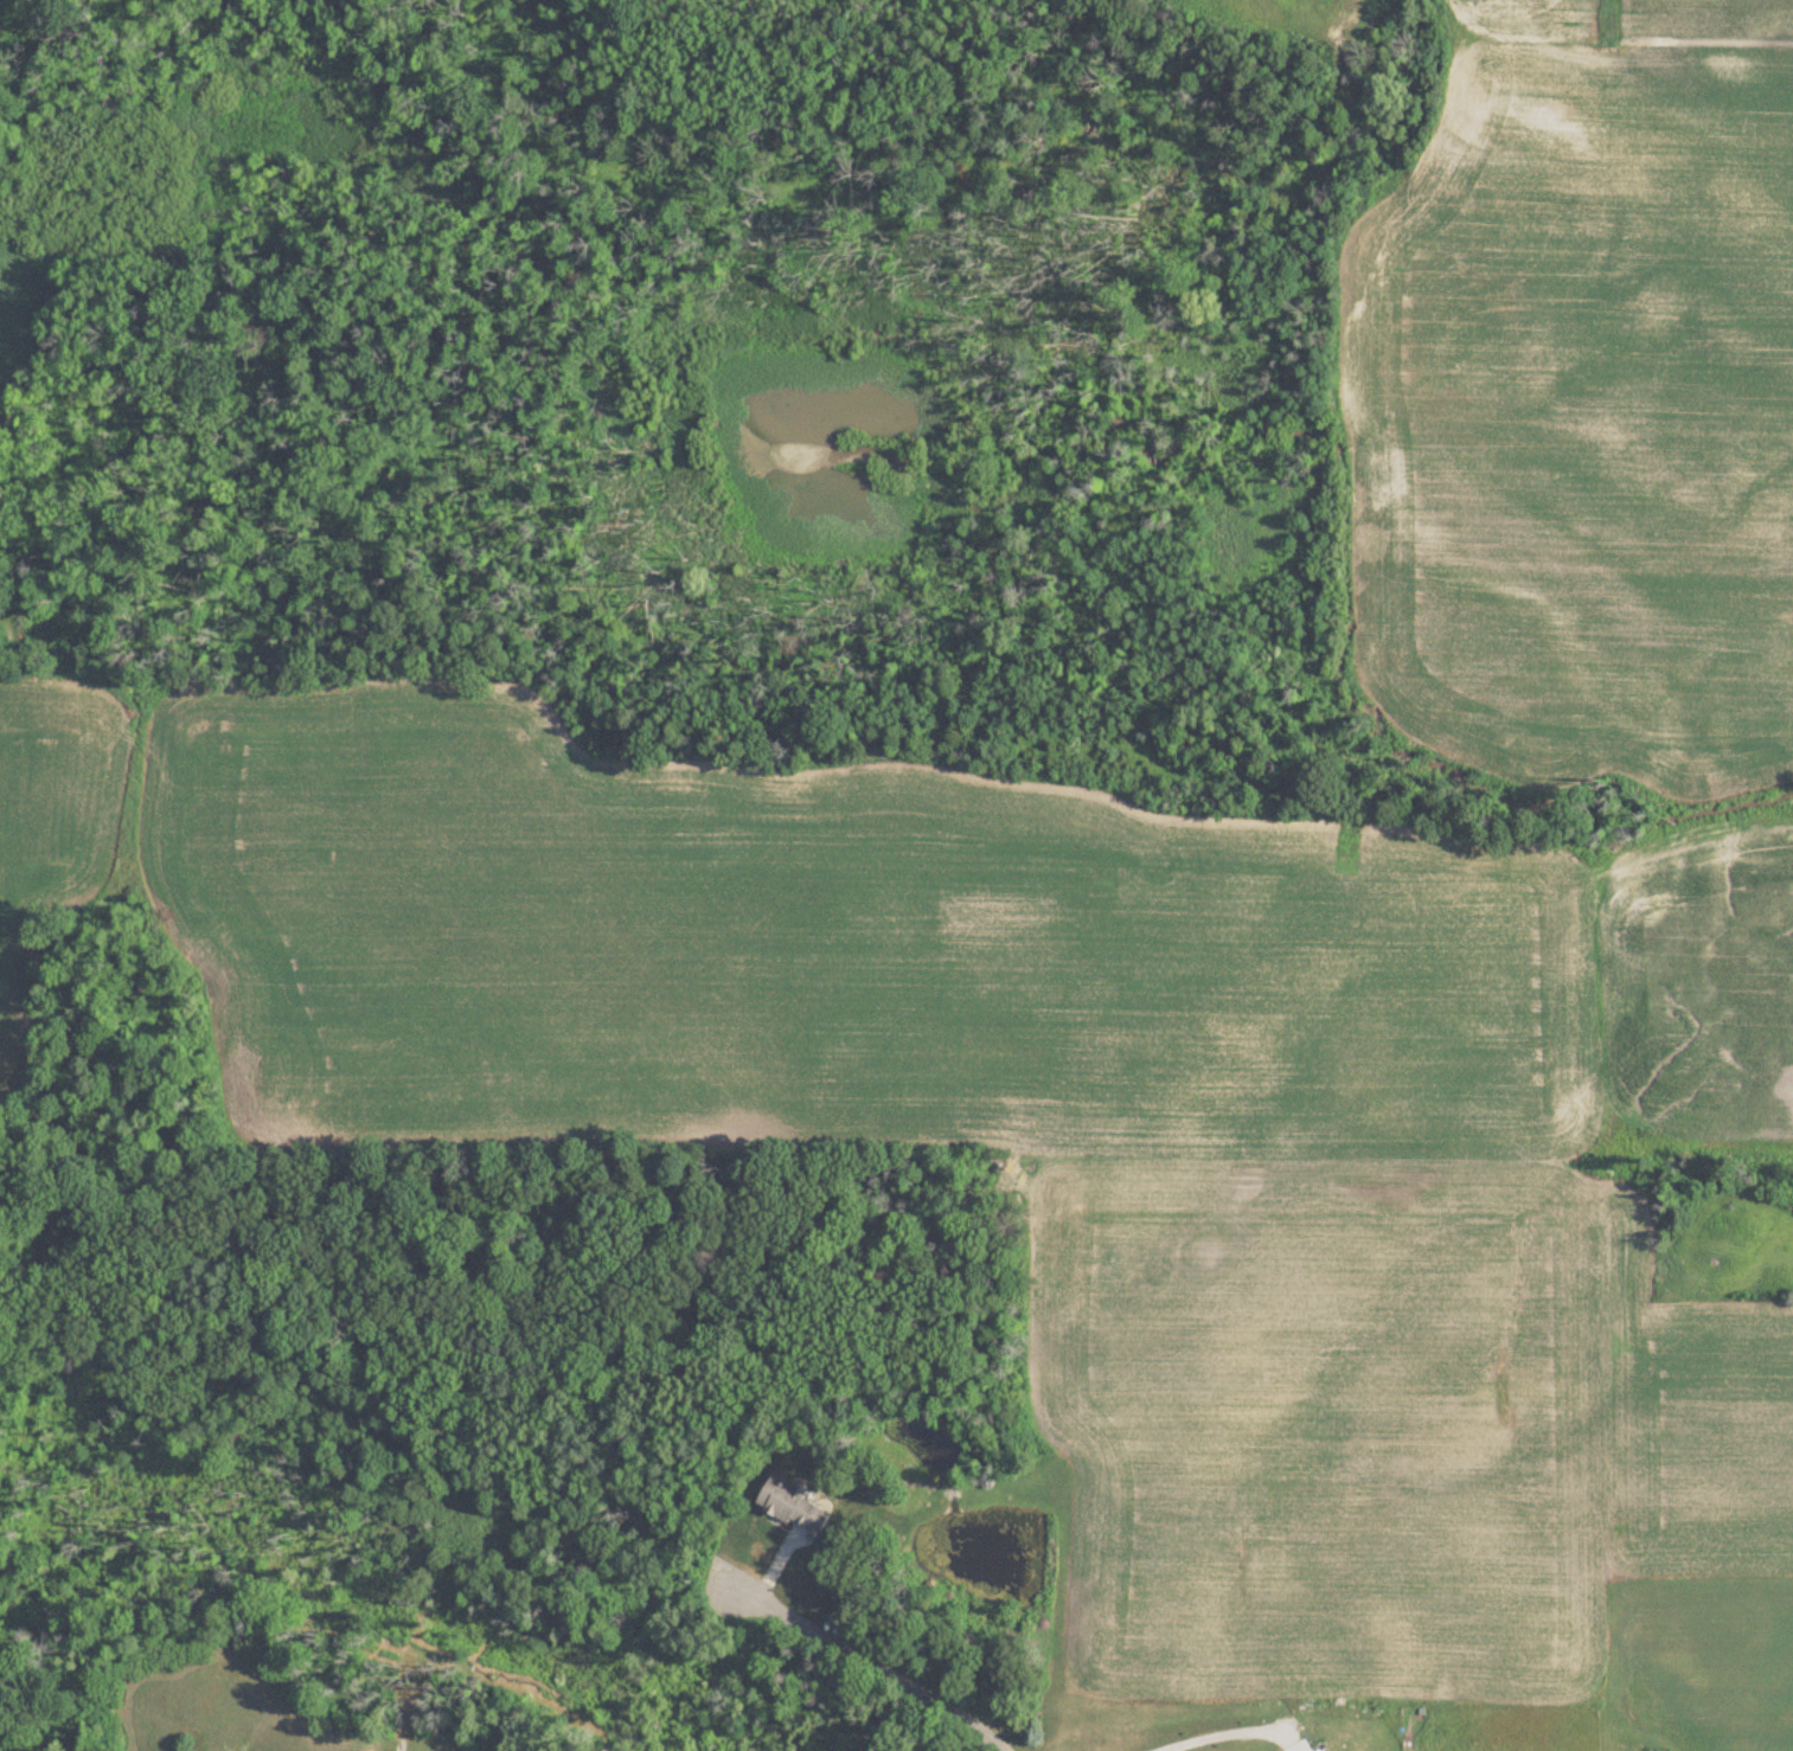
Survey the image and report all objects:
building: (795, 1503)
road: (873, 1659)
road: (92, 1704)
road: (1223, 1732)

